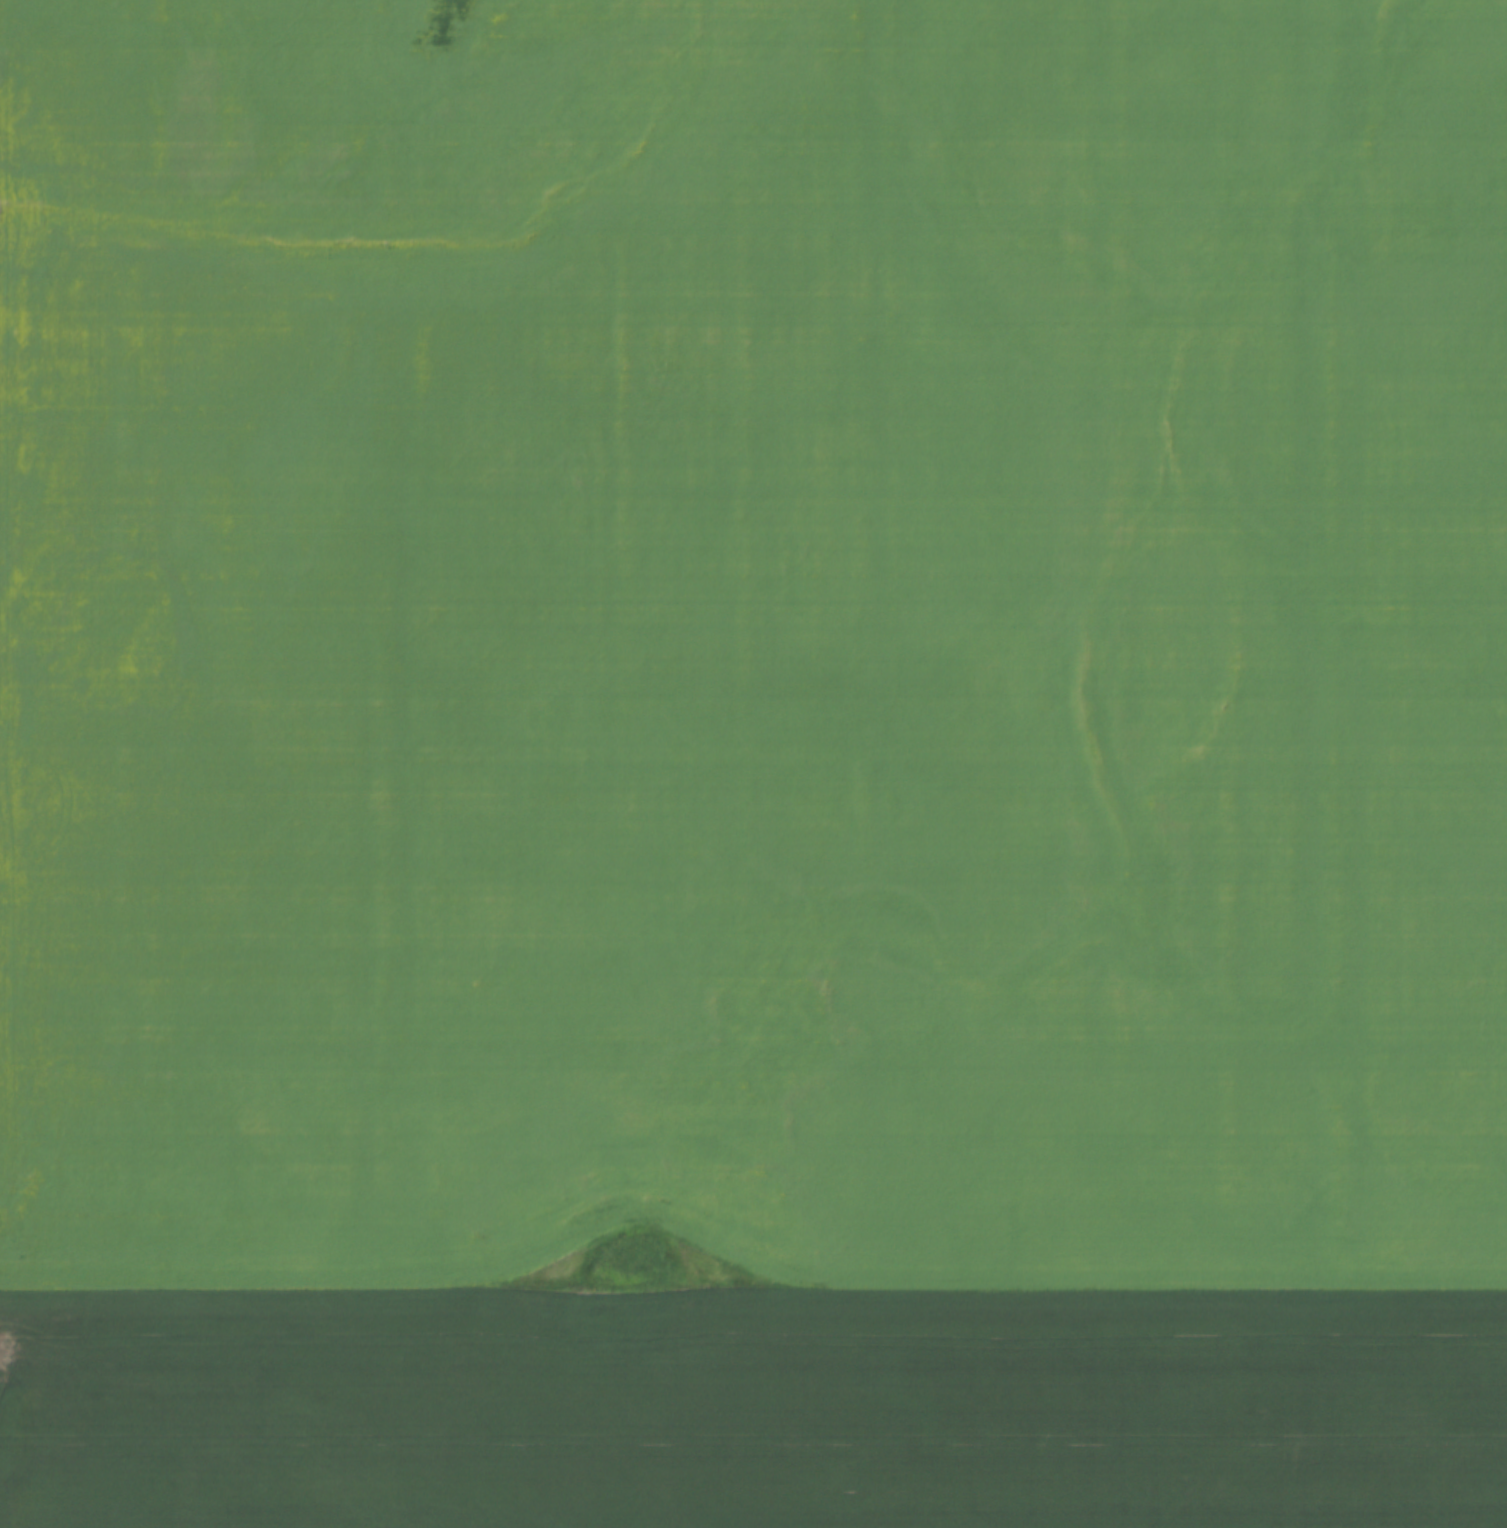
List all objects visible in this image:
road: (753, 1289)
building: (45, 1352)

